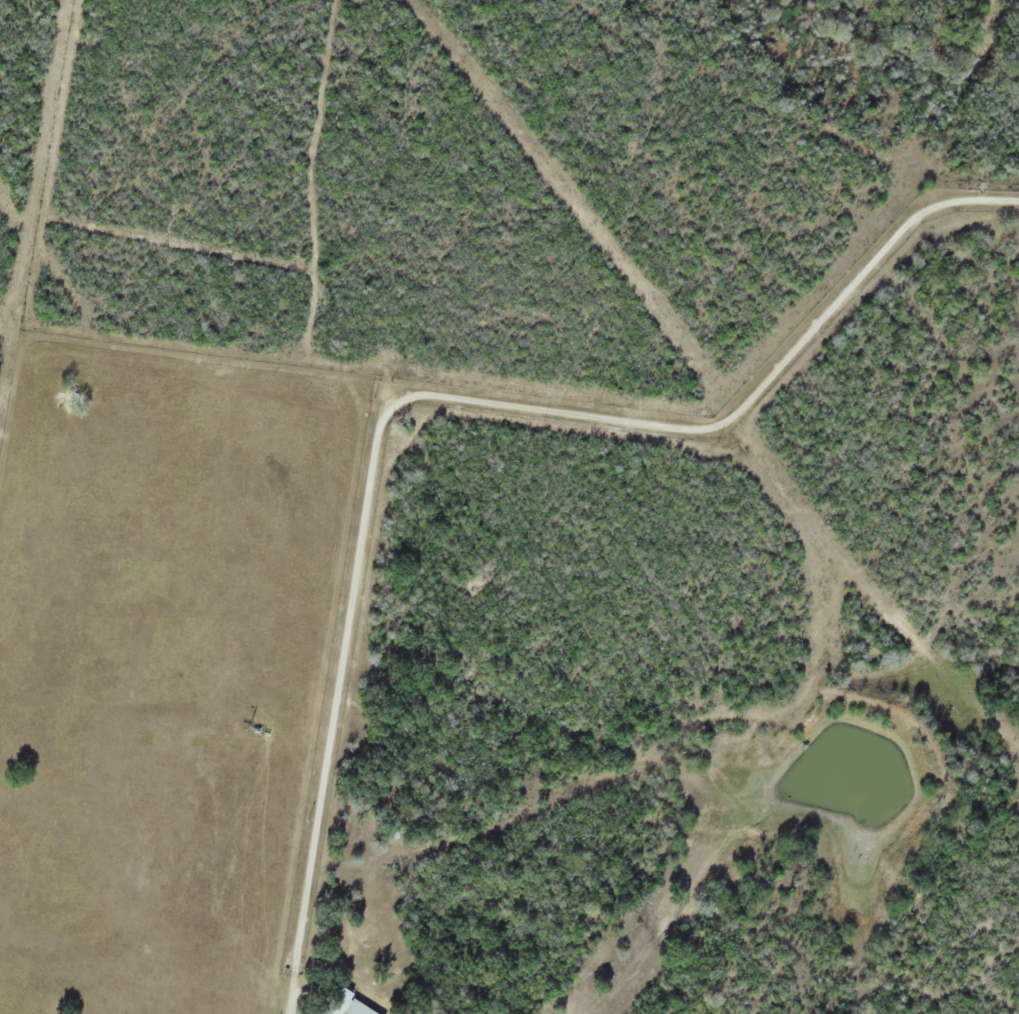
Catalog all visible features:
building: (346, 1005)

